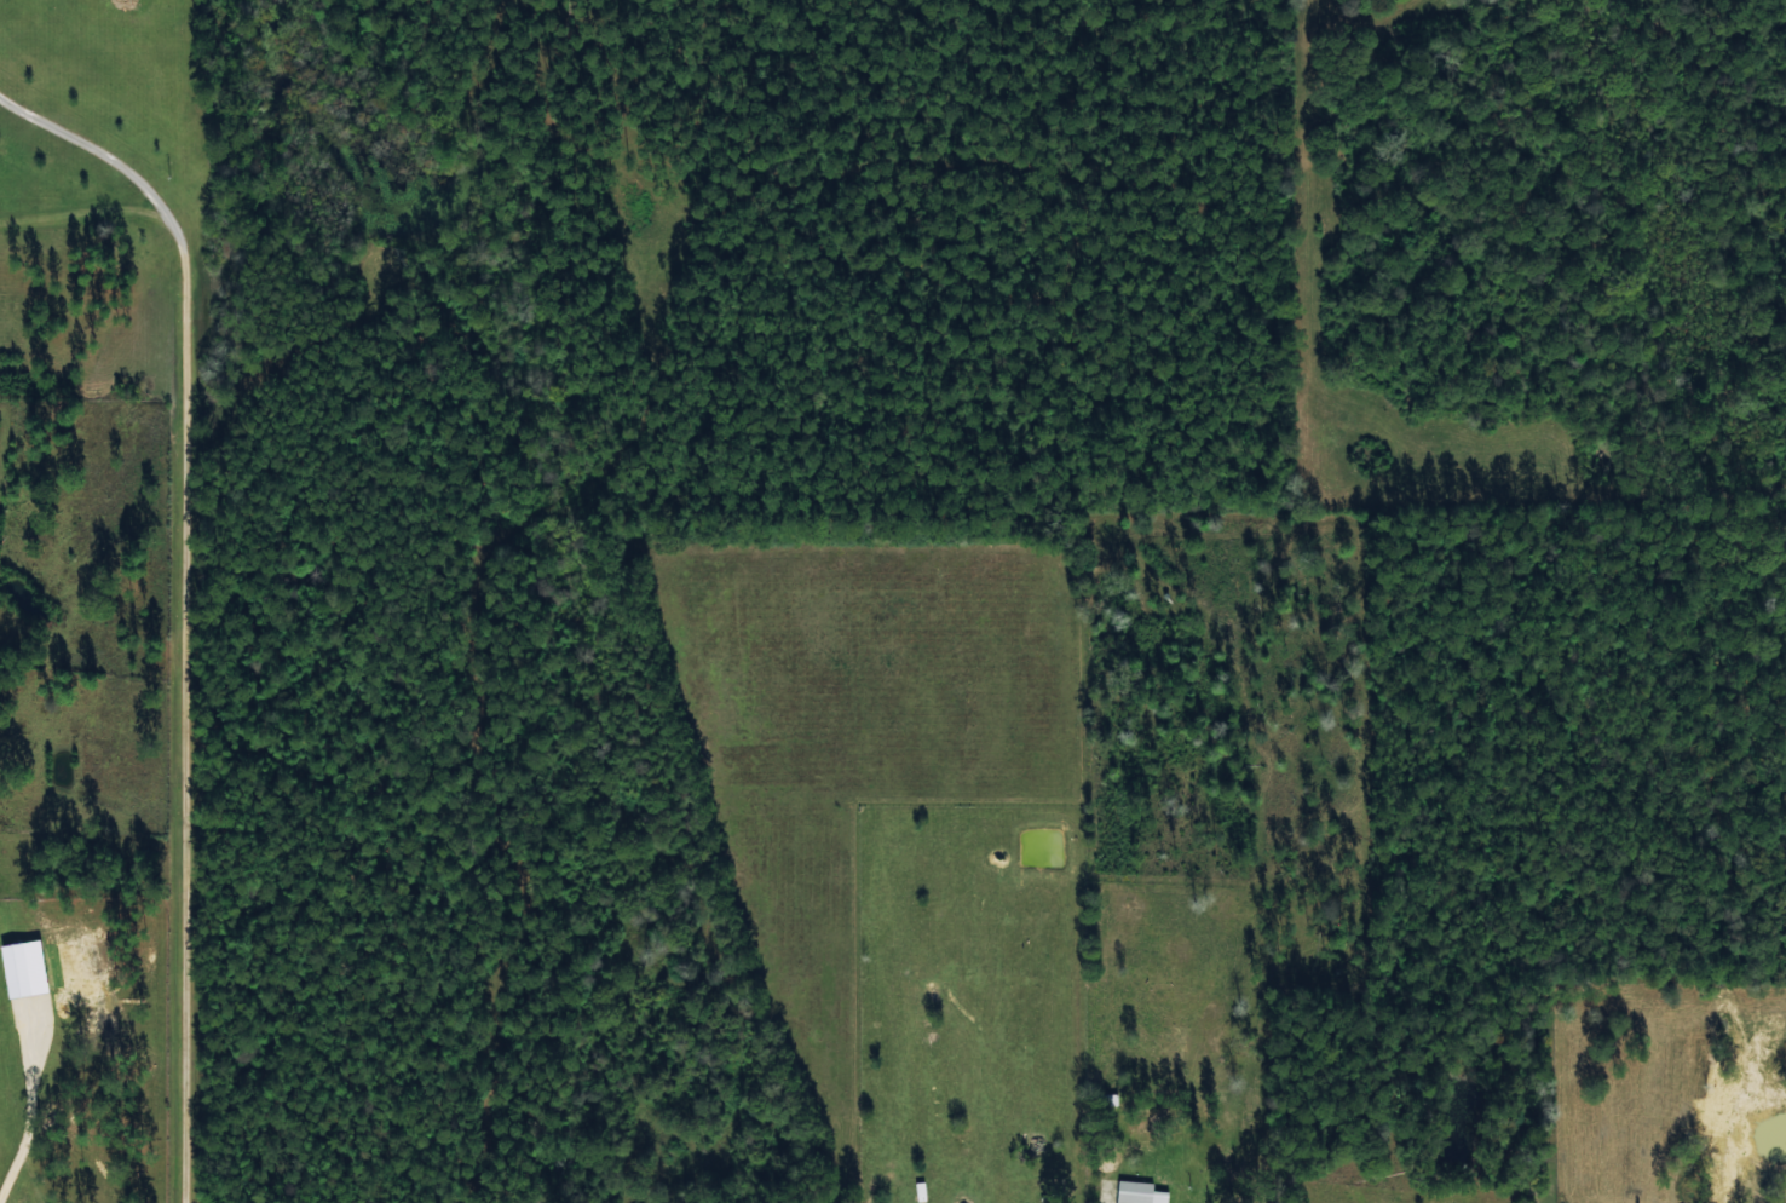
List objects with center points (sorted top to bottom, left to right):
road: (144, 657)
building: (1139, 1192)

